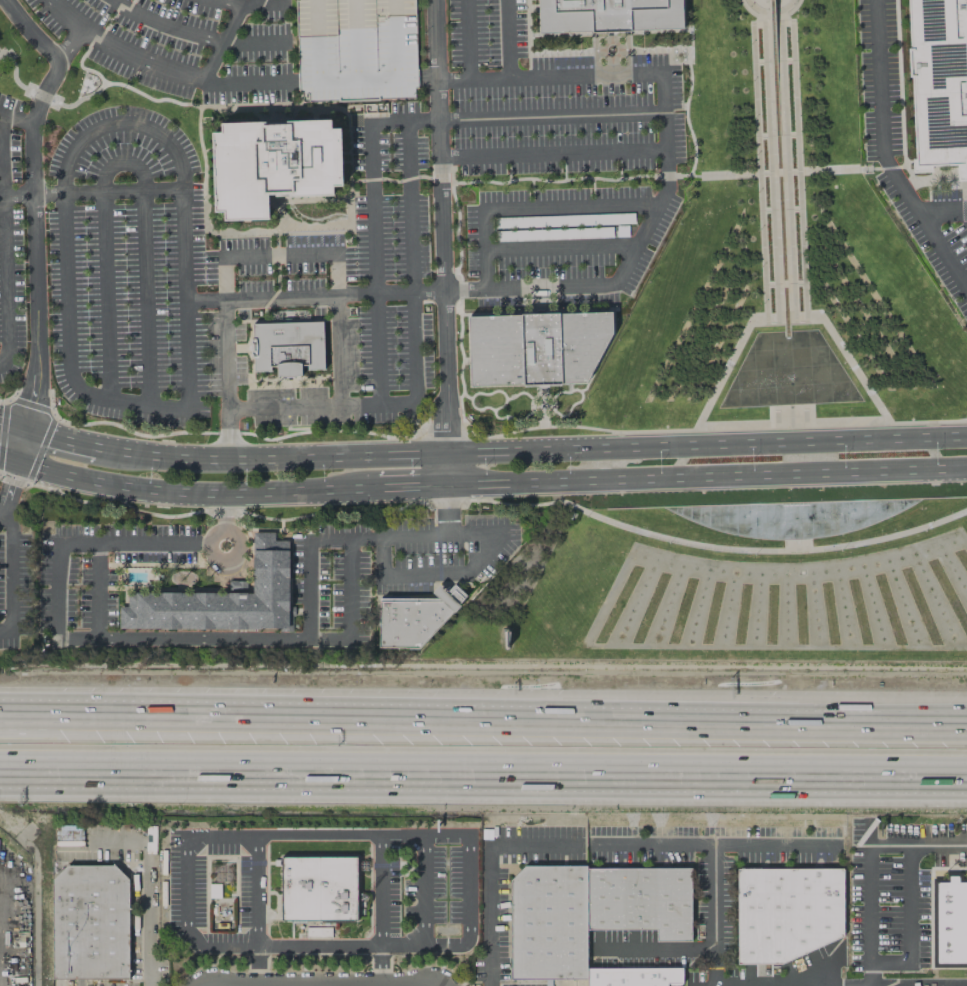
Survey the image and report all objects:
road: (231, 1)
road: (786, 6)
road: (754, 7)
road: (791, 10)
road: (749, 11)
building: (608, 15)
road: (109, 20)
road: (163, 25)
road: (225, 34)
road: (791, 36)
road: (752, 37)
road: (508, 39)
road: (468, 40)
road: (253, 41)
road: (604, 44)
road: (68, 46)
building: (355, 49)
parking garage: (355, 49)
road: (118, 50)
road: (654, 50)
road: (538, 54)
road: (610, 66)
road: (82, 68)
road: (13, 75)
road: (588, 76)
road: (243, 83)
road: (689, 83)
building: (938, 83)
road: (794, 90)
road: (781, 91)
road: (755, 93)
road: (41, 96)
road: (237, 105)
road: (276, 108)
road: (343, 110)
road: (879, 111)
road: (16, 117)
road: (551, 117)
road: (198, 120)
road: (274, 120)
road: (404, 123)
road: (119, 124)
road: (552, 154)
road: (127, 162)
road: (797, 164)
building: (271, 165)
road: (758, 167)
road: (883, 168)
road: (451, 178)
road: (405, 179)
road: (91, 191)
road: (31, 202)
road: (570, 207)
road: (942, 211)
road: (965, 213)
fountain: (315, 214)
road: (281, 222)
road: (282, 226)
road: (332, 226)
road: (440, 226)
road: (3, 230)
road: (801, 239)
road: (761, 240)
road: (774, 240)
road: (560, 248)
road: (485, 250)
road: (942, 251)
road: (279, 254)
park: (782, 255)
road: (410, 263)
road: (374, 265)
road: (276, 273)
road: (783, 283)
road: (599, 284)
road: (313, 297)
road: (184, 299)
road: (537, 300)
road: (596, 310)
road: (249, 323)
road: (66, 347)
building: (286, 347)
road: (235, 348)
building: (534, 348)
road: (338, 351)
road: (3, 355)
road: (464, 360)
road: (226, 380)
road: (568, 387)
road: (541, 391)
road: (503, 394)
road: (538, 394)
road: (500, 406)
road: (321, 407)
road: (568, 407)
road: (493, 414)
road: (928, 421)
road: (542, 422)
road: (13, 424)
road: (531, 428)
road: (61, 439)
road: (22, 445)
road: (530, 450)
road: (8, 458)
road: (447, 468)
road: (707, 476)
road: (413, 485)
road: (9, 488)
road: (196, 492)
road: (7, 518)
road: (764, 551)
road: (58, 556)
road: (308, 562)
road: (456, 573)
road: (13, 576)
park: (729, 579)
building: (237, 585)
building: (221, 598)
building: (412, 618)
road: (6, 630)
road: (203, 639)
road: (14, 719)
road: (390, 727)
road: (860, 728)
road: (483, 776)
road: (317, 835)
road: (776, 844)
road: (601, 845)
road: (250, 862)
road: (272, 862)
road: (369, 865)
road: (384, 865)
road: (869, 867)
building: (317, 887)
road: (423, 891)
building: (639, 901)
building: (785, 912)
building: (949, 922)
building: (89, 923)
road: (148, 923)
building: (547, 923)
road: (908, 923)
road: (338, 946)
road: (656, 949)
building: (632, 976)

